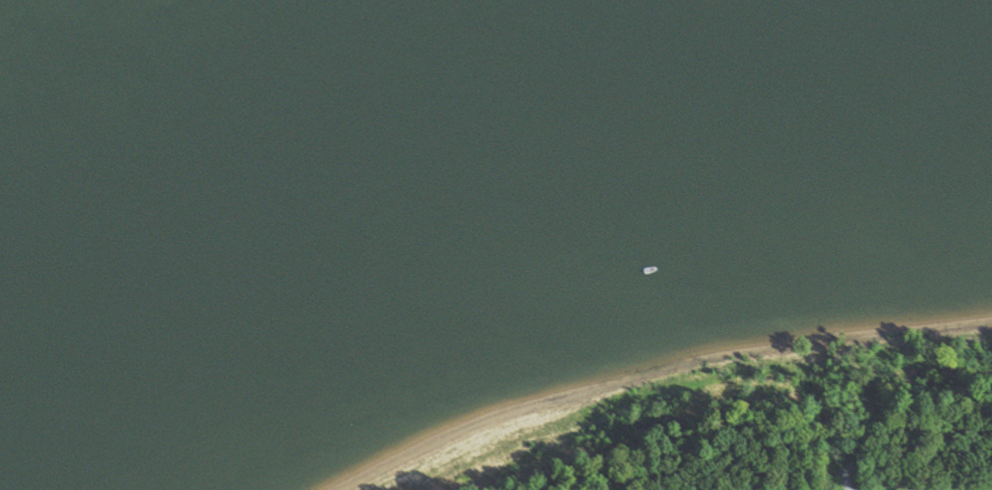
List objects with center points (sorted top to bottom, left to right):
river: (202, 77)

